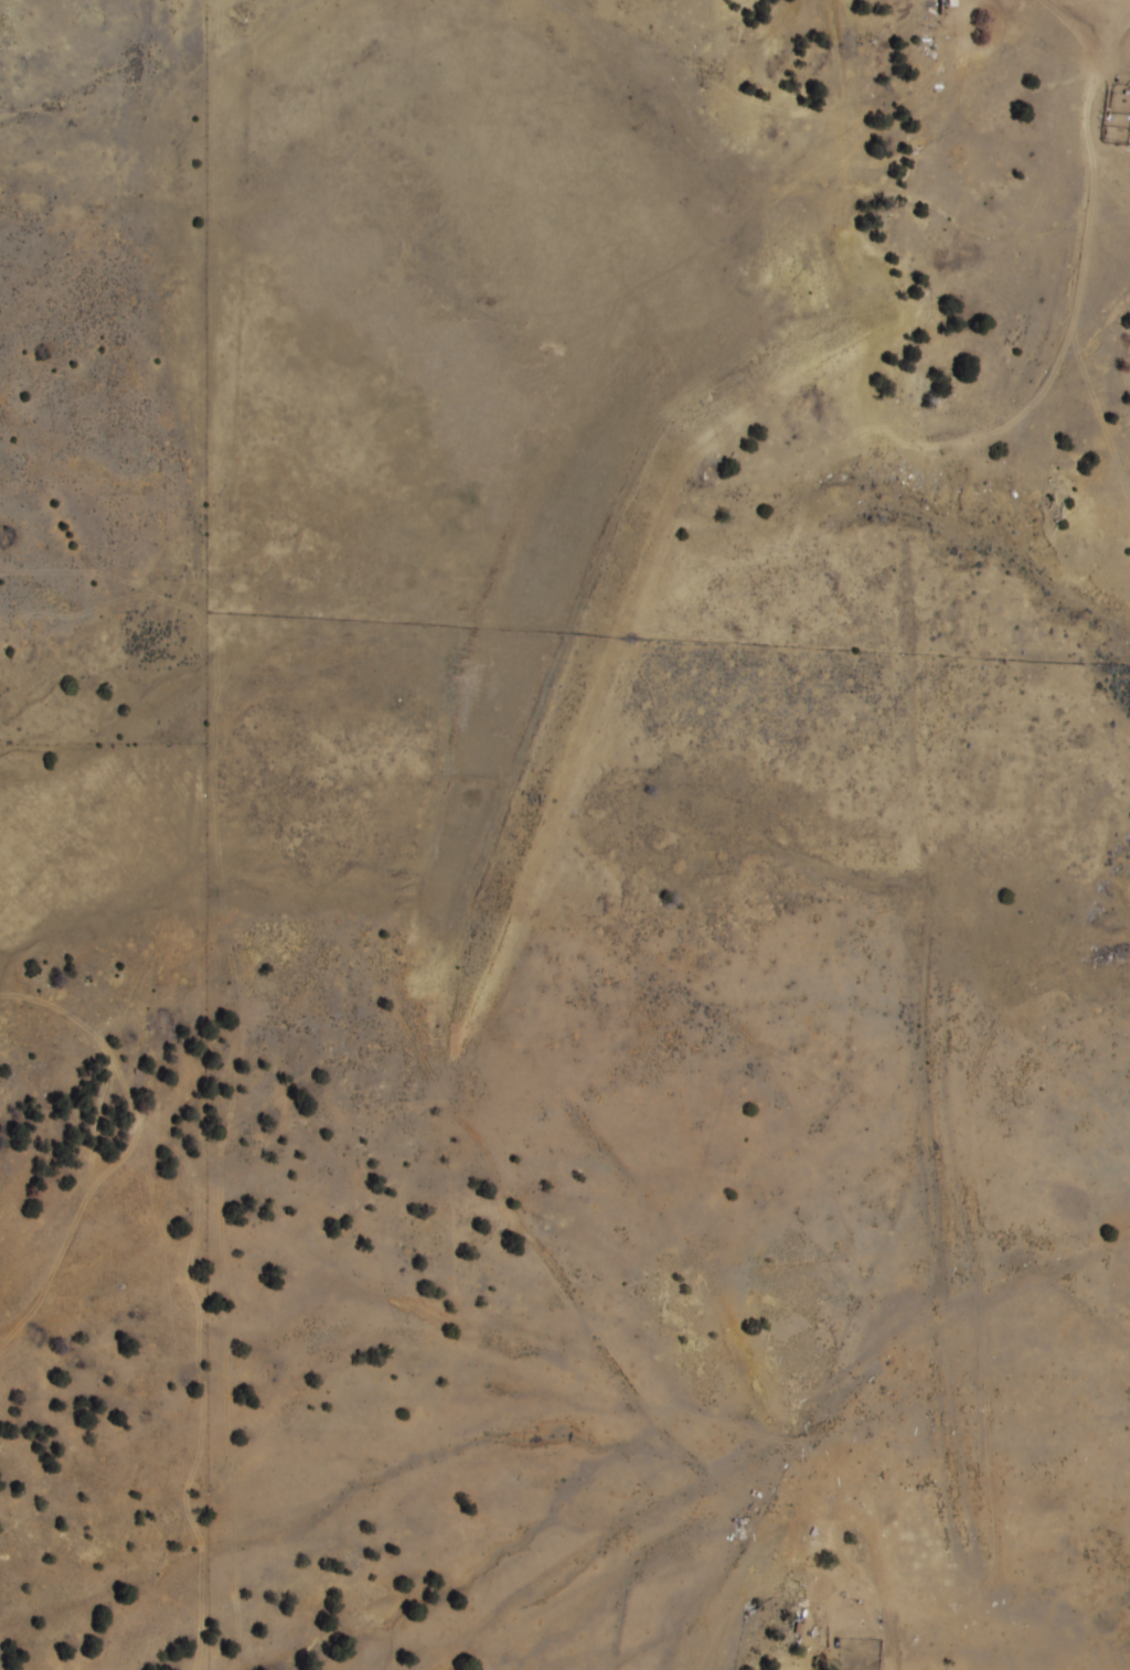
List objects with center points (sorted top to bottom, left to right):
building: (1117, 118)
building: (802, 1534)
building: (801, 1657)

